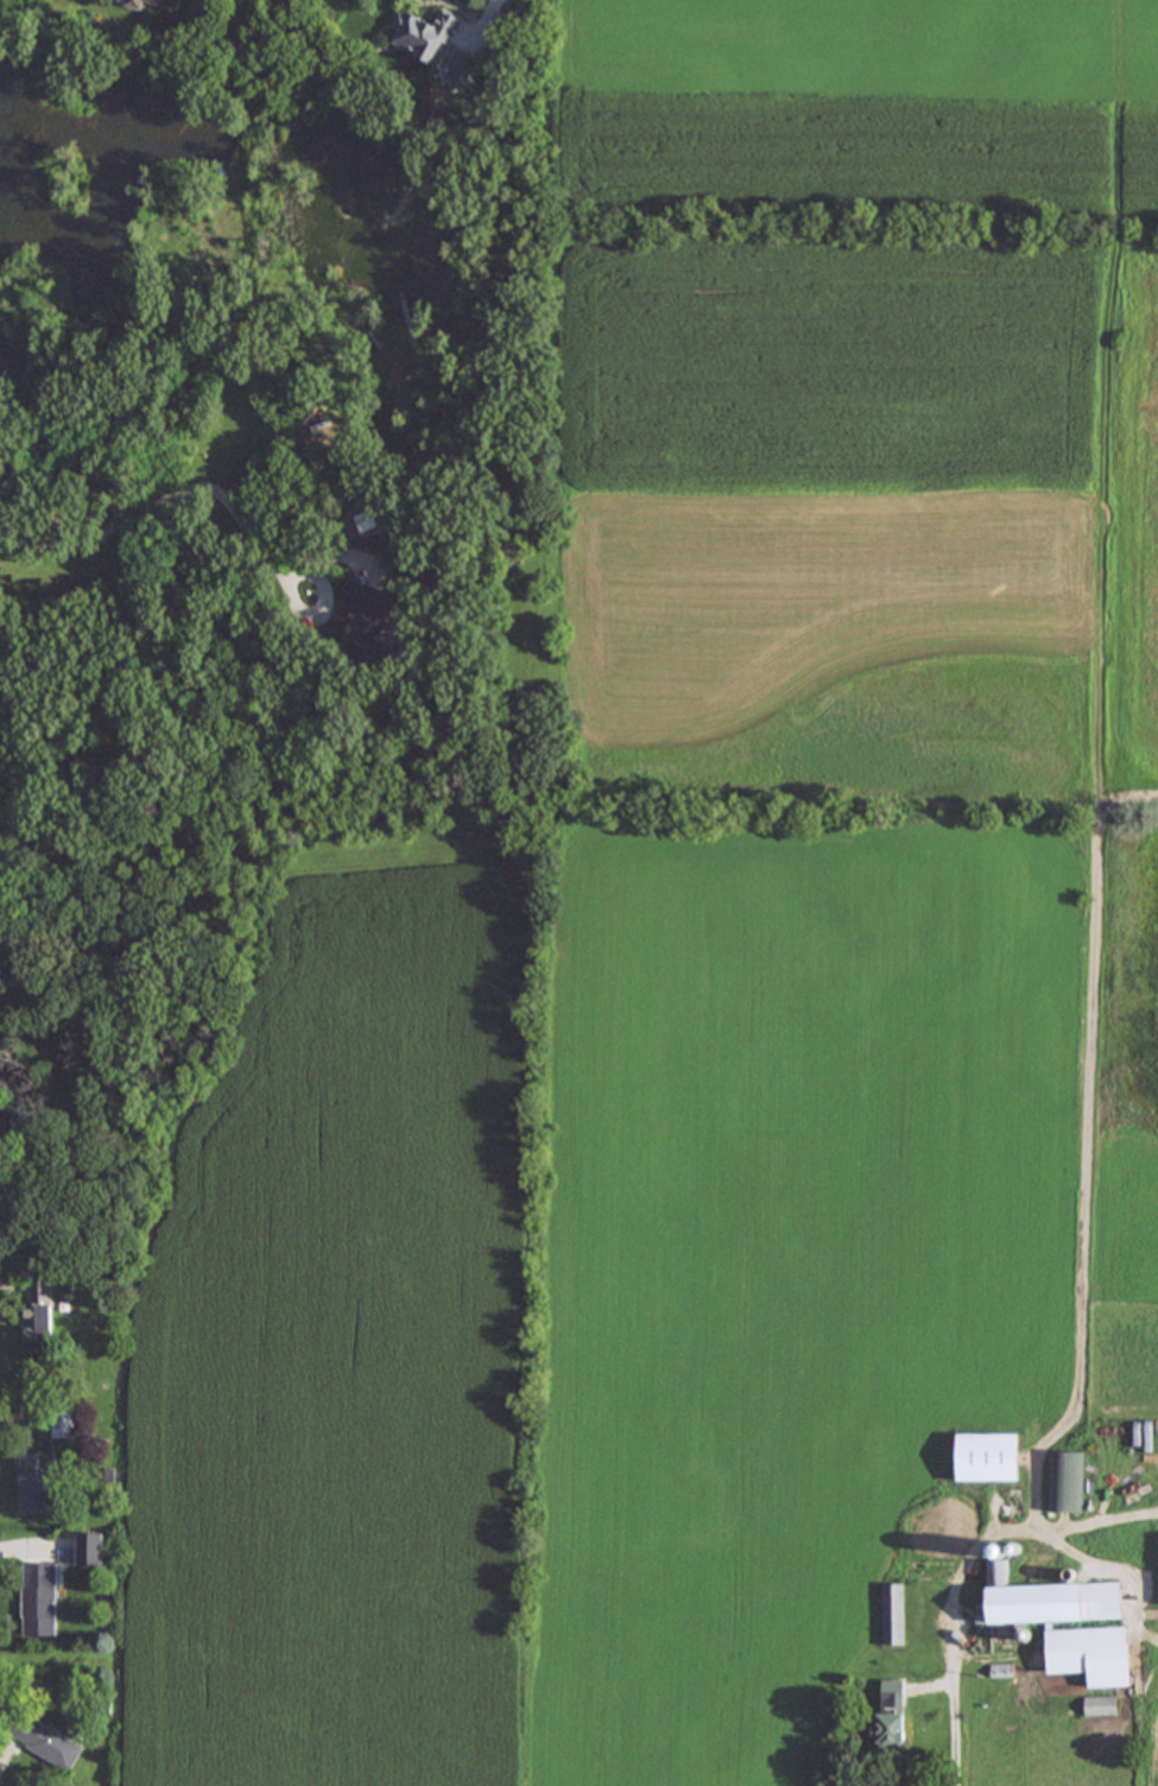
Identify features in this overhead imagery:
building: (166, 2)
building: (134, 4)
building: (428, 34)
building: (462, 66)
road: (125, 512)
road: (262, 552)
building: (367, 620)
building: (2, 1142)
road: (1084, 1298)
building: (39, 1309)
building: (64, 1423)
building: (986, 1457)
building: (36, 1482)
building: (1065, 1482)
road: (32, 1550)
building: (89, 1550)
building: (39, 1600)
building: (892, 1614)
building: (1090, 1654)
building: (1001, 1670)
building: (1100, 1705)
building: (890, 1714)
building: (43, 1740)

